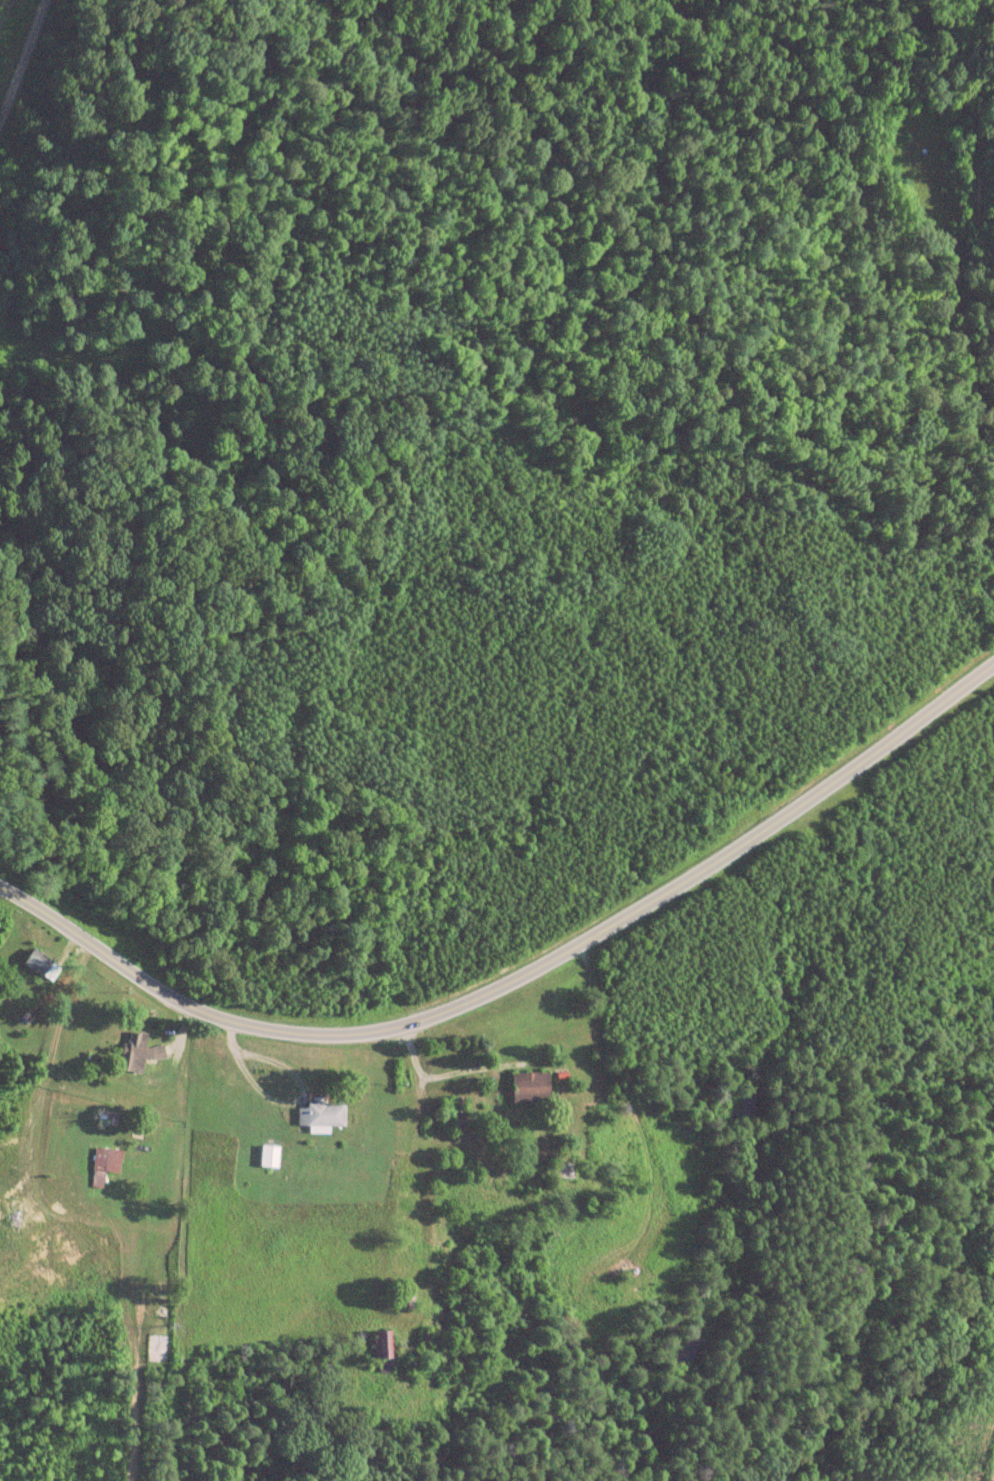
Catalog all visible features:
road: (18, 46)
building: (43, 965)
road: (518, 976)
building: (142, 1051)
building: (533, 1087)
building: (327, 1115)
building: (457, 1120)
building: (271, 1156)
building: (107, 1165)
building: (427, 1337)
building: (388, 1344)

